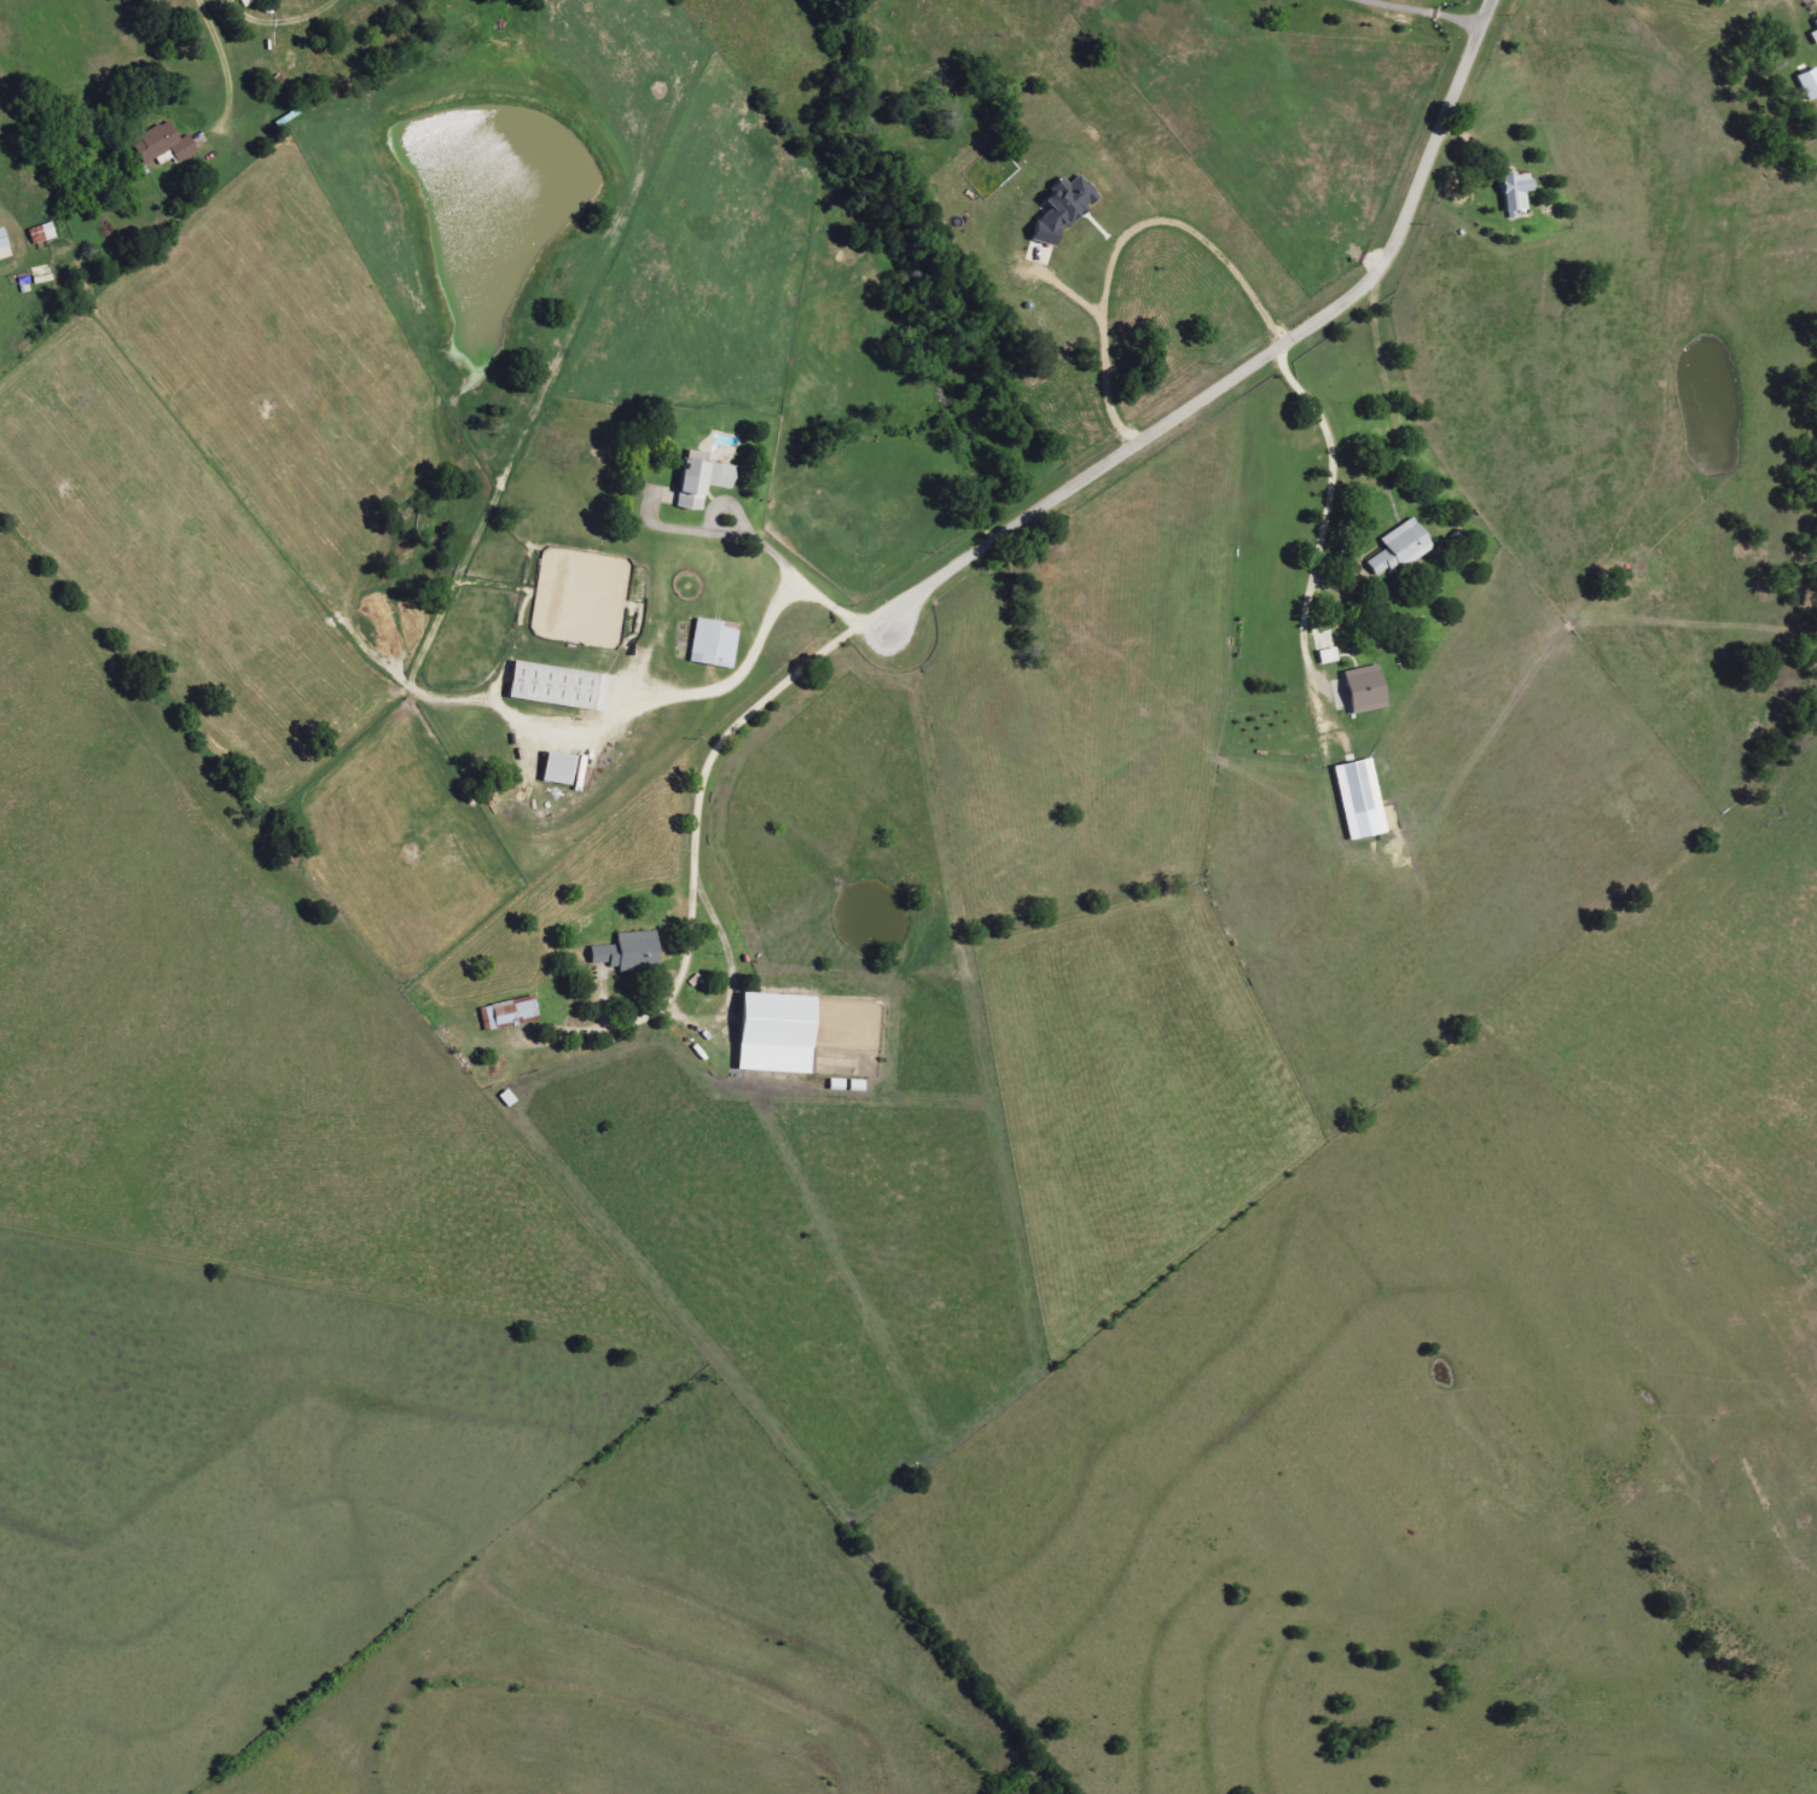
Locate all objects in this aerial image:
road: (1421, 13)
building: (1812, 31)
building: (1805, 83)
building: (167, 144)
building: (1511, 192)
building: (1057, 211)
building: (46, 234)
building: (6, 245)
road: (1337, 465)
building: (706, 481)
road: (736, 504)
road: (1032, 517)
building: (1395, 548)
road: (807, 581)
building: (718, 643)
building: (1331, 656)
building: (563, 686)
building: (1370, 689)
building: (563, 767)
building: (1364, 799)
building: (633, 952)
building: (513, 1012)

